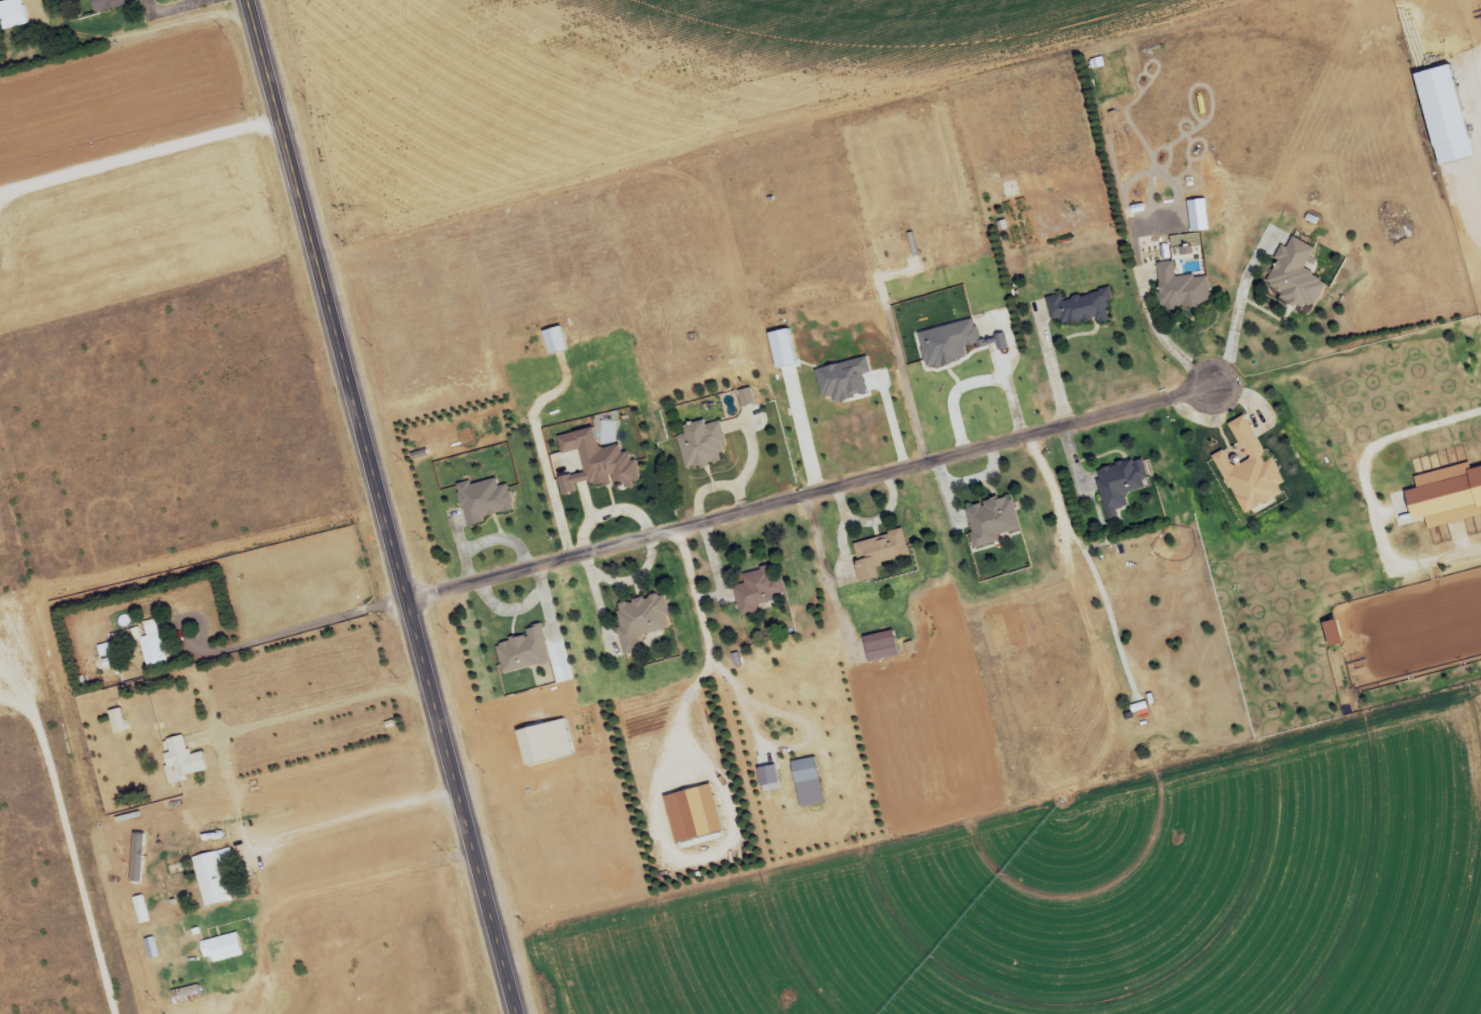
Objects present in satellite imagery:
road: (174, 2)
building: (106, 4)
building: (12, 13)
building: (1098, 62)
building: (1296, 275)
building: (1181, 288)
building: (1080, 307)
road: (1237, 311)
road: (1164, 341)
road: (1052, 371)
road: (974, 385)
road: (892, 421)
building: (703, 446)
building: (1122, 482)
road: (811, 494)
road: (1366, 494)
road: (385, 506)
building: (993, 520)
building: (879, 552)
road: (1086, 559)
building: (760, 588)
building: (641, 620)
building: (150, 645)
building: (184, 758)
building: (805, 770)
building: (768, 775)
road: (73, 854)
building: (214, 875)
building: (141, 909)
building: (222, 945)
building: (151, 947)
building: (806, 985)
building: (186, 994)
building: (807, 1010)

